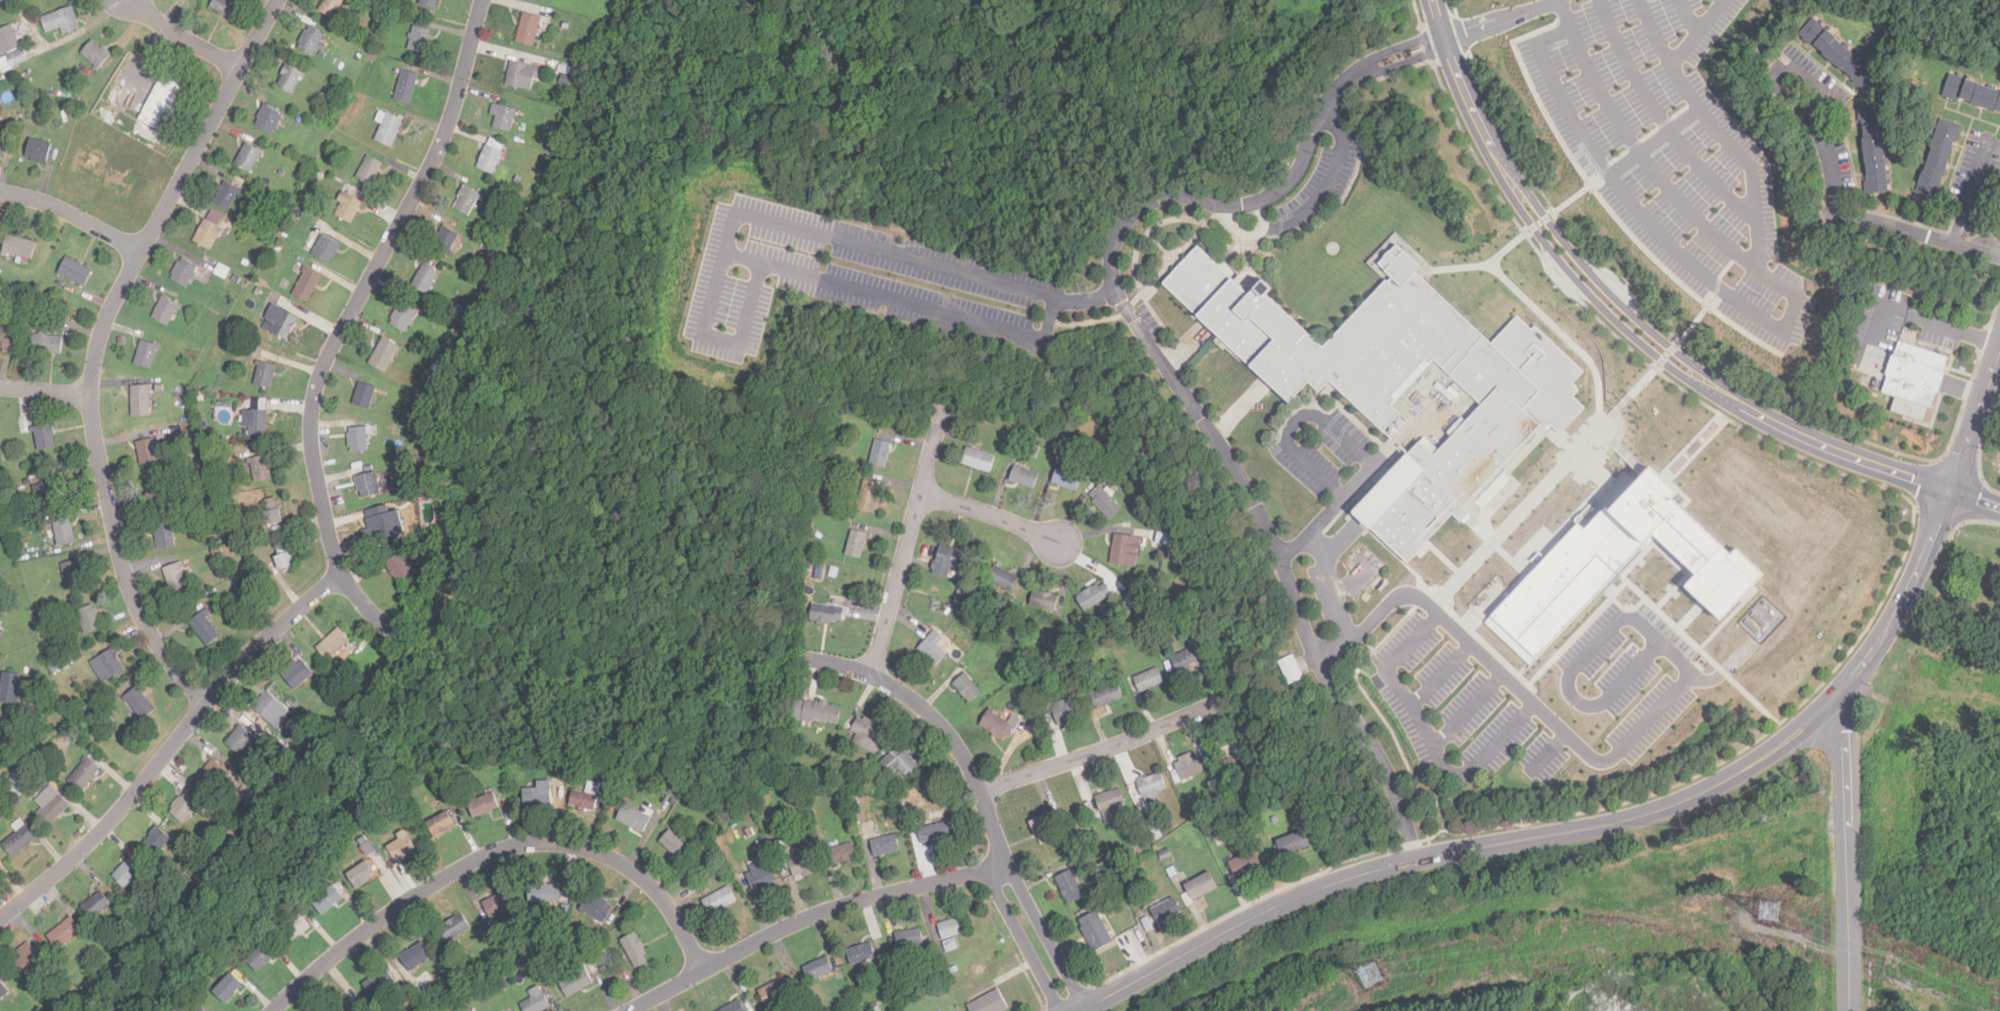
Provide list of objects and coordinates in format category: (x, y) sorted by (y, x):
road: (1722, 0)
building: (429, 2)
building: (226, 7)
building: (332, 7)
building: (409, 7)
road: (1688, 17)
building: (61, 20)
road: (1500, 21)
building: (528, 30)
road: (1654, 34)
road: (182, 38)
building: (8, 40)
building: (419, 40)
building: (312, 41)
road: (1437, 43)
building: (1915, 43)
road: (1397, 48)
building: (96, 55)
building: (1839, 55)
building: (21, 57)
road: (1402, 62)
building: (5, 66)
building: (567, 70)
building: (522, 76)
building: (290, 79)
building: (566, 80)
building: (406, 88)
building: (1972, 94)
building: (163, 102)
building: (380, 117)
building: (503, 118)
road: (1662, 119)
building: (269, 120)
building: (390, 130)
river: (951, 133)
road: (1656, 139)
building: (520, 141)
building: (2, 142)
road: (1815, 148)
building: (39, 151)
building: (1874, 152)
parking lot: (1671, 153)
building: (248, 158)
building: (490, 160)
road: (1646, 163)
building: (1937, 163)
building: (370, 171)
building: (282, 173)
building: (320, 176)
building: (517, 179)
road: (1326, 183)
road: (1595, 183)
building: (349, 188)
building: (228, 196)
road: (1966, 197)
building: (468, 199)
road: (1600, 200)
building: (348, 208)
road: (73, 215)
road: (1260, 215)
building: (293, 227)
road: (1895, 229)
road: (1237, 230)
road: (1147, 233)
building: (207, 235)
road: (846, 239)
building: (446, 242)
building: (487, 244)
building: (19, 248)
road: (1164, 249)
road: (1979, 249)
building: (327, 250)
road: (745, 256)
building: (246, 263)
building: (222, 271)
building: (76, 272)
building: (185, 273)
building: (236, 279)
building: (426, 279)
parking lot: (856, 280)
building: (307, 285)
road: (1146, 285)
road: (1120, 302)
building: (166, 311)
road: (1539, 312)
road: (349, 314)
road: (1761, 315)
road: (1622, 317)
building: (404, 318)
building: (14, 321)
building: (282, 321)
building: (233, 332)
building: (48, 341)
building: (5, 342)
road: (97, 344)
building: (146, 355)
building: (385, 356)
building: (411, 356)
building: (265, 375)
building: (1915, 376)
building: (1403, 383)
road: (1328, 387)
building: (160, 388)
road: (44, 392)
road: (1323, 392)
building: (365, 396)
building: (141, 401)
road: (1328, 408)
road: (1975, 416)
building: (988, 420)
building: (258, 423)
road: (1352, 431)
road: (1322, 434)
road: (1332, 436)
road: (1592, 436)
building: (45, 437)
building: (361, 437)
road: (1350, 442)
building: (184, 445)
road: (1335, 446)
road: (1621, 447)
parking lot: (1327, 449)
building: (147, 452)
building: (881, 454)
building: (979, 460)
building: (7, 463)
building: (261, 468)
building: (24, 472)
building: (410, 472)
building: (1025, 477)
building: (27, 480)
building: (1067, 480)
building: (368, 486)
building: (53, 489)
traffic signals: (1949, 492)
building: (155, 494)
building: (869, 498)
road: (1974, 500)
building: (1105, 502)
building: (273, 513)
road: (991, 515)
building: (378, 528)
building: (64, 531)
building: (227, 536)
building: (165, 537)
building: (1164, 538)
road: (908, 540)
building: (857, 545)
building: (26, 547)
building: (1127, 550)
building: (217, 551)
building: (1173, 551)
building: (285, 557)
building: (950, 561)
building: (1617, 562)
building: (813, 566)
building: (821, 566)
building: (399, 569)
road: (1682, 570)
building: (73, 574)
building: (1003, 579)
building: (178, 580)
road: (1289, 581)
building: (962, 594)
building: (1094, 597)
building: (1132, 600)
building: (1044, 601)
road: (1339, 601)
building: (1985, 601)
building: (851, 605)
building: (936, 606)
building: (1172, 608)
road: (1627, 608)
building: (827, 614)
building: (89, 620)
building: (205, 629)
building: (1, 632)
road: (1573, 635)
road: (1600, 638)
building: (1059, 639)
building: (334, 645)
road: (1853, 648)
building: (934, 649)
building: (1077, 653)
building: (1185, 661)
building: (109, 667)
building: (52, 668)
building: (1292, 670)
road: (1725, 670)
parking lot: (1630, 673)
building: (297, 674)
building: (1066, 675)
road: (1440, 675)
building: (1149, 681)
building: (9, 689)
building: (968, 689)
building: (1106, 696)
road: (1527, 697)
building: (1087, 701)
building: (139, 704)
building: (1035, 708)
building: (272, 710)
road: (1467, 710)
building: (815, 711)
building: (1066, 712)
building: (1000, 725)
building: (0, 729)
building: (0, 730)
building: (869, 735)
road: (1426, 738)
building: (240, 740)
building: (306, 740)
road: (171, 747)
building: (298, 750)
road: (1103, 750)
road: (1549, 751)
building: (1234, 758)
building: (285, 759)
building: (902, 765)
building: (1187, 769)
building: (86, 773)
building: (212, 774)
building: (240, 775)
building: (1259, 781)
building: (618, 784)
building: (1151, 788)
road: (980, 793)
building: (538, 794)
building: (1209, 797)
building: (586, 798)
building: (809, 800)
building: (1110, 800)
building: (247, 802)
building: (483, 806)
building: (54, 808)
building: (184, 808)
building: (230, 808)
building: (904, 809)
building: (891, 815)
building: (633, 819)
building: (1275, 820)
building: (229, 824)
park: (296, 824)
building: (440, 825)
building: (1042, 829)
building: (1143, 832)
building: (1156, 832)
building: (750, 833)
building: (936, 833)
road: (1579, 834)
building: (19, 838)
building: (157, 841)
building: (364, 842)
building: (1068, 844)
building: (1293, 844)
building: (675, 845)
building: (886, 845)
building: (1142, 845)
building: (402, 847)
road: (492, 853)
building: (843, 854)
road: (1847, 860)
building: (804, 864)
building: (1245, 864)
building: (1171, 870)
building: (362, 874)
building: (128, 875)
building: (762, 875)
building: (1112, 880)
building: (1132, 885)
building: (1201, 886)
building: (1069, 888)
building: (545, 894)
building: (328, 900)
building: (721, 901)
building: (498, 905)
building: (96, 906)
building: (596, 908)
building: (1164, 910)
building: (564, 913)
road: (808, 919)
building: (1147, 924)
building: (953, 928)
building: (294, 929)
building: (454, 929)
building: (1095, 931)
building: (65, 934)
building: (910, 939)
building: (950, 945)
building: (601, 946)
building: (634, 950)
building: (49, 952)
building: (862, 954)
building: (261, 957)
building: (416, 957)
building: (30, 959)
building: (885, 963)
building: (899, 964)
building: (819, 969)
building: (947, 971)
building: (535, 974)
building: (380, 983)
building: (577, 984)
building: (487, 987)
building: (228, 988)
building: (3, 991)
building: (777, 991)
quarry: (1681, 1000)
building: (536, 1001)
building: (851, 1002)
building: (991, 1003)
building: (734, 1006)
building: (348, 1007)
building: (812, 1008)
building: (878, 1009)
building: (201, 1010)

